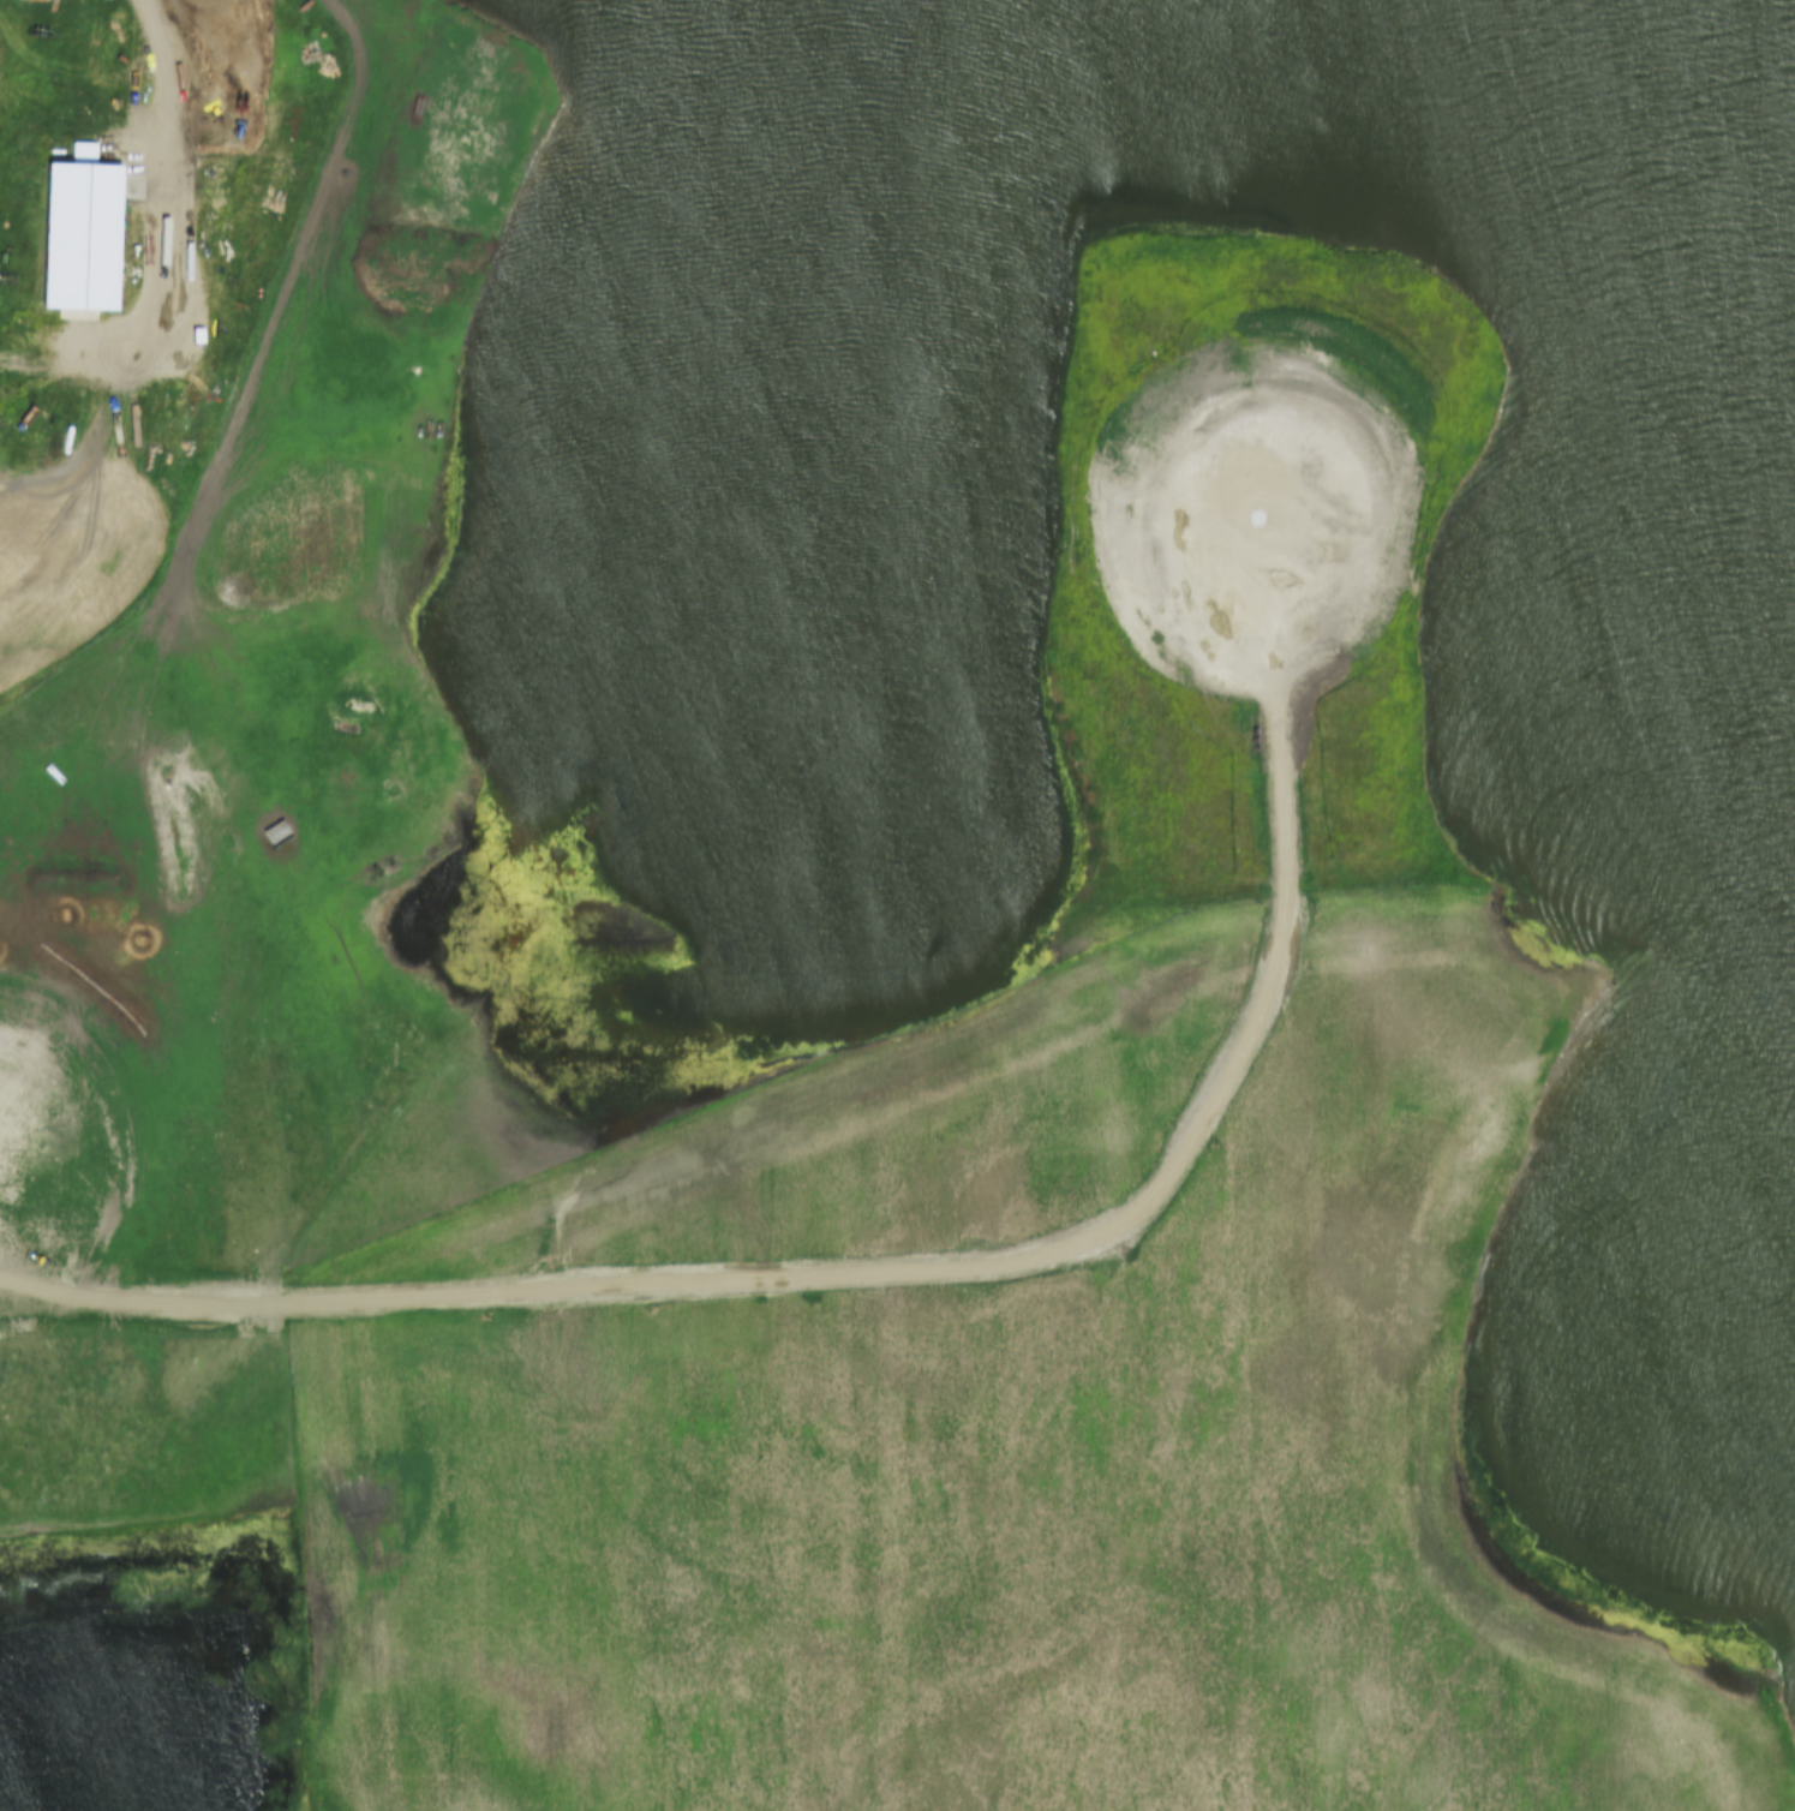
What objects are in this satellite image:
wind turbine: (1263, 521)

